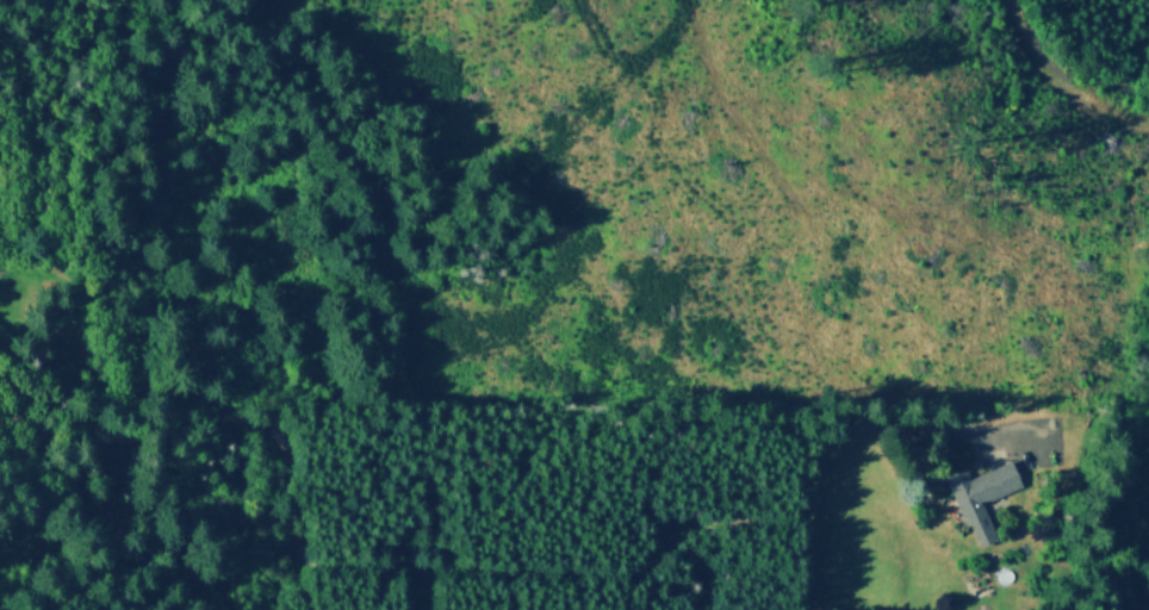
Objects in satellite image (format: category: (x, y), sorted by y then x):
road: (1063, 79)
building: (976, 493)
road: (465, 566)

